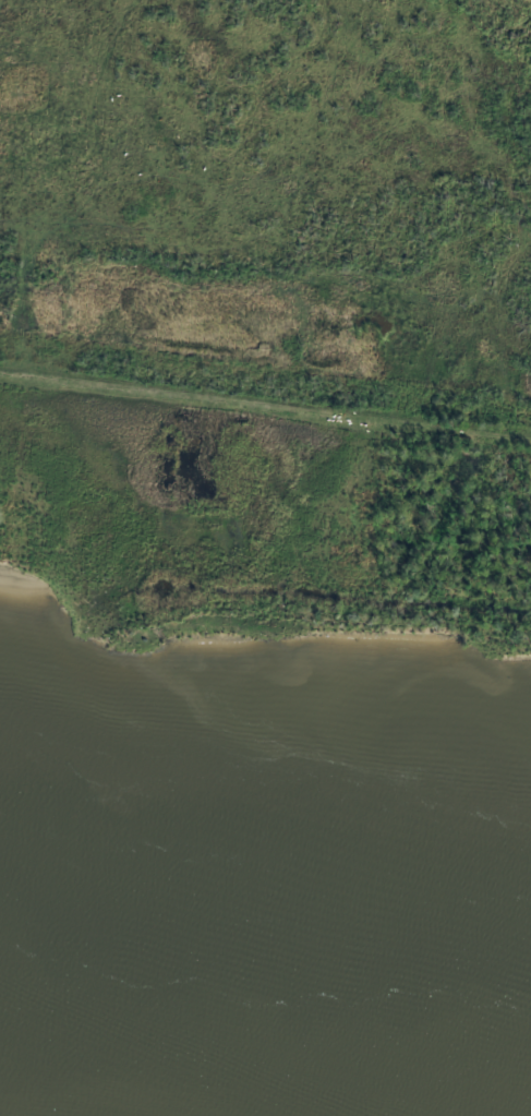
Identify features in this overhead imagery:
river: (265, 1057)

